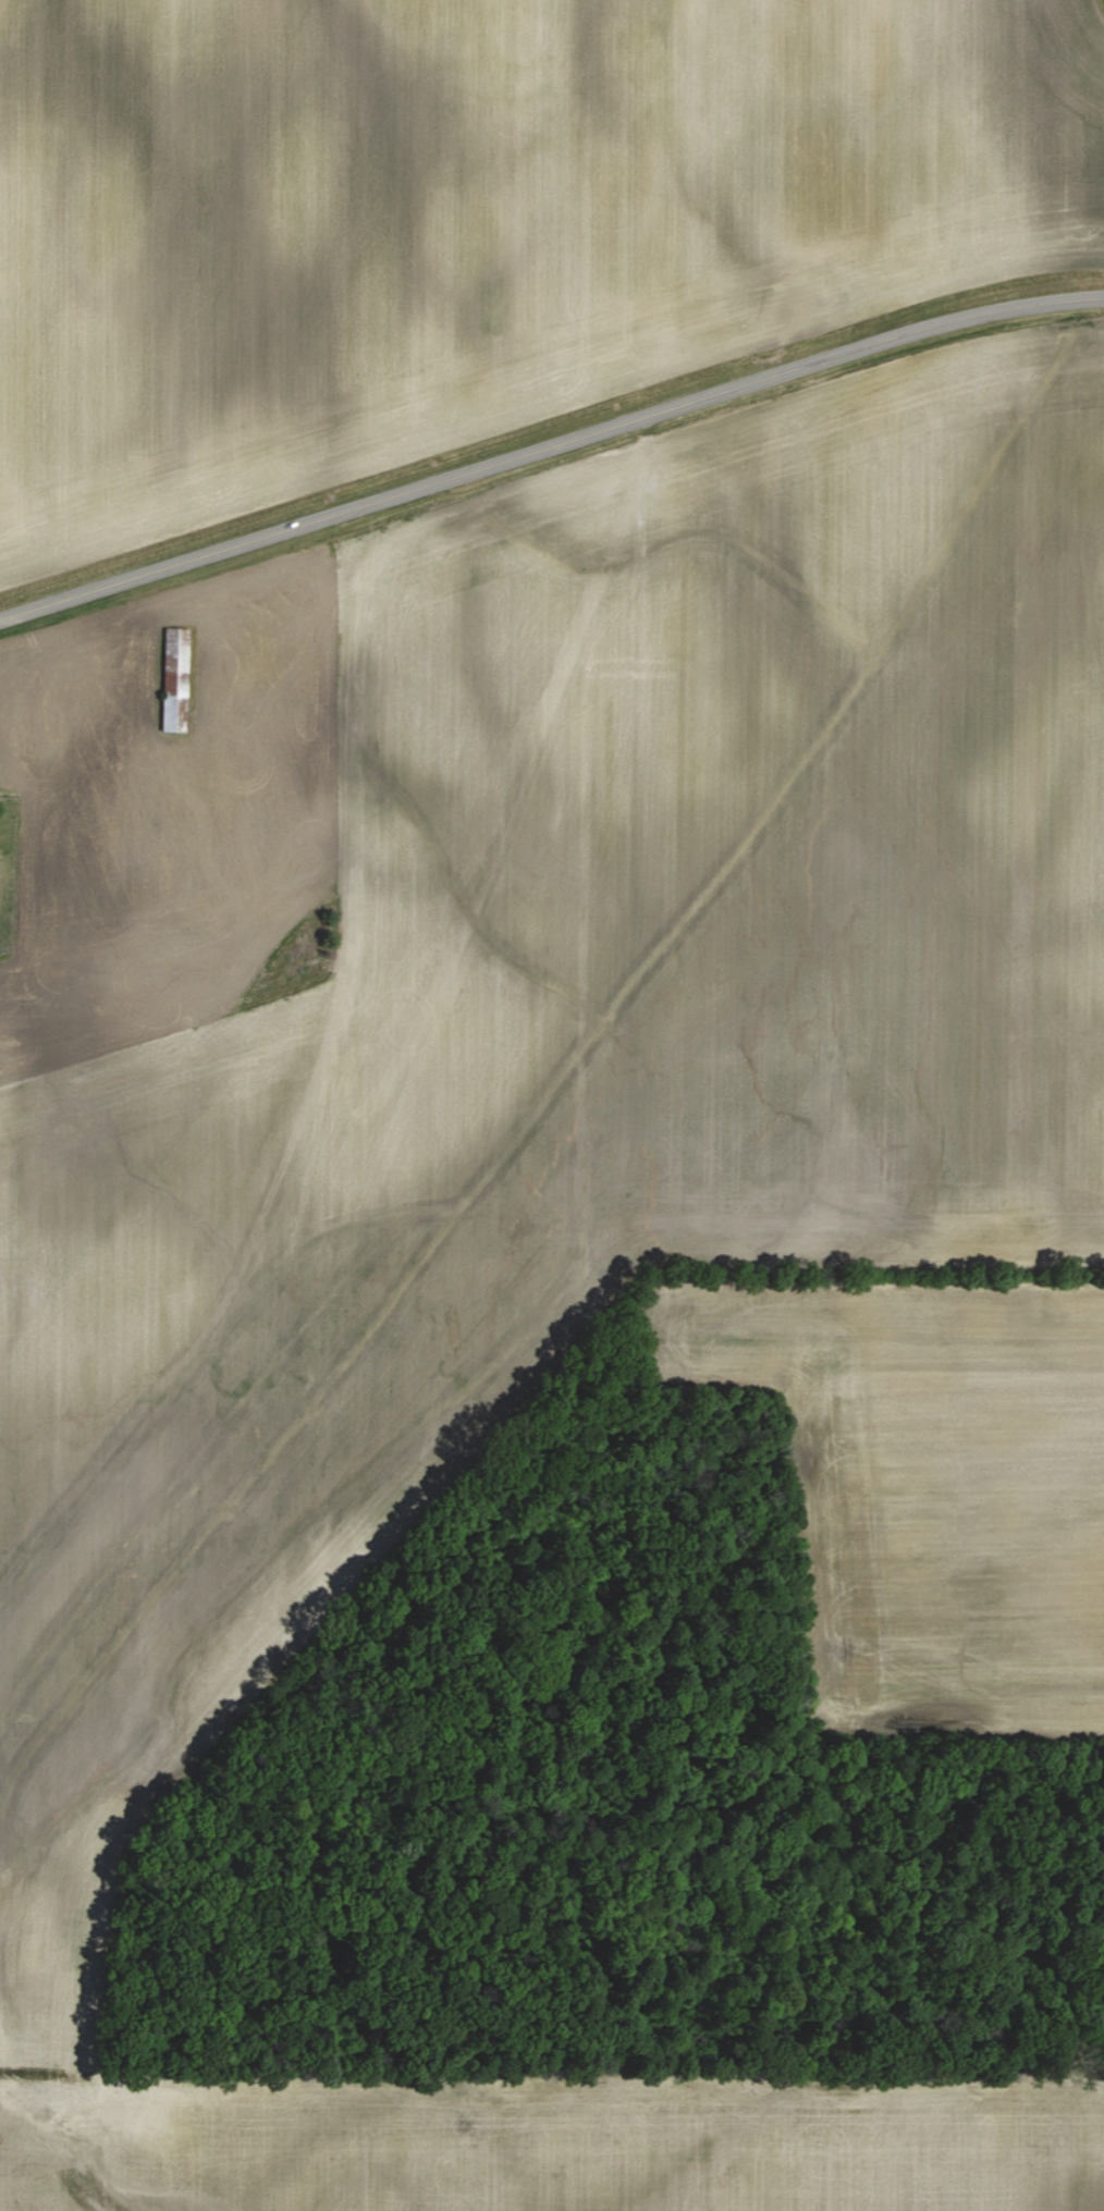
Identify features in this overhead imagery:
road: (549, 444)
building: (174, 679)

